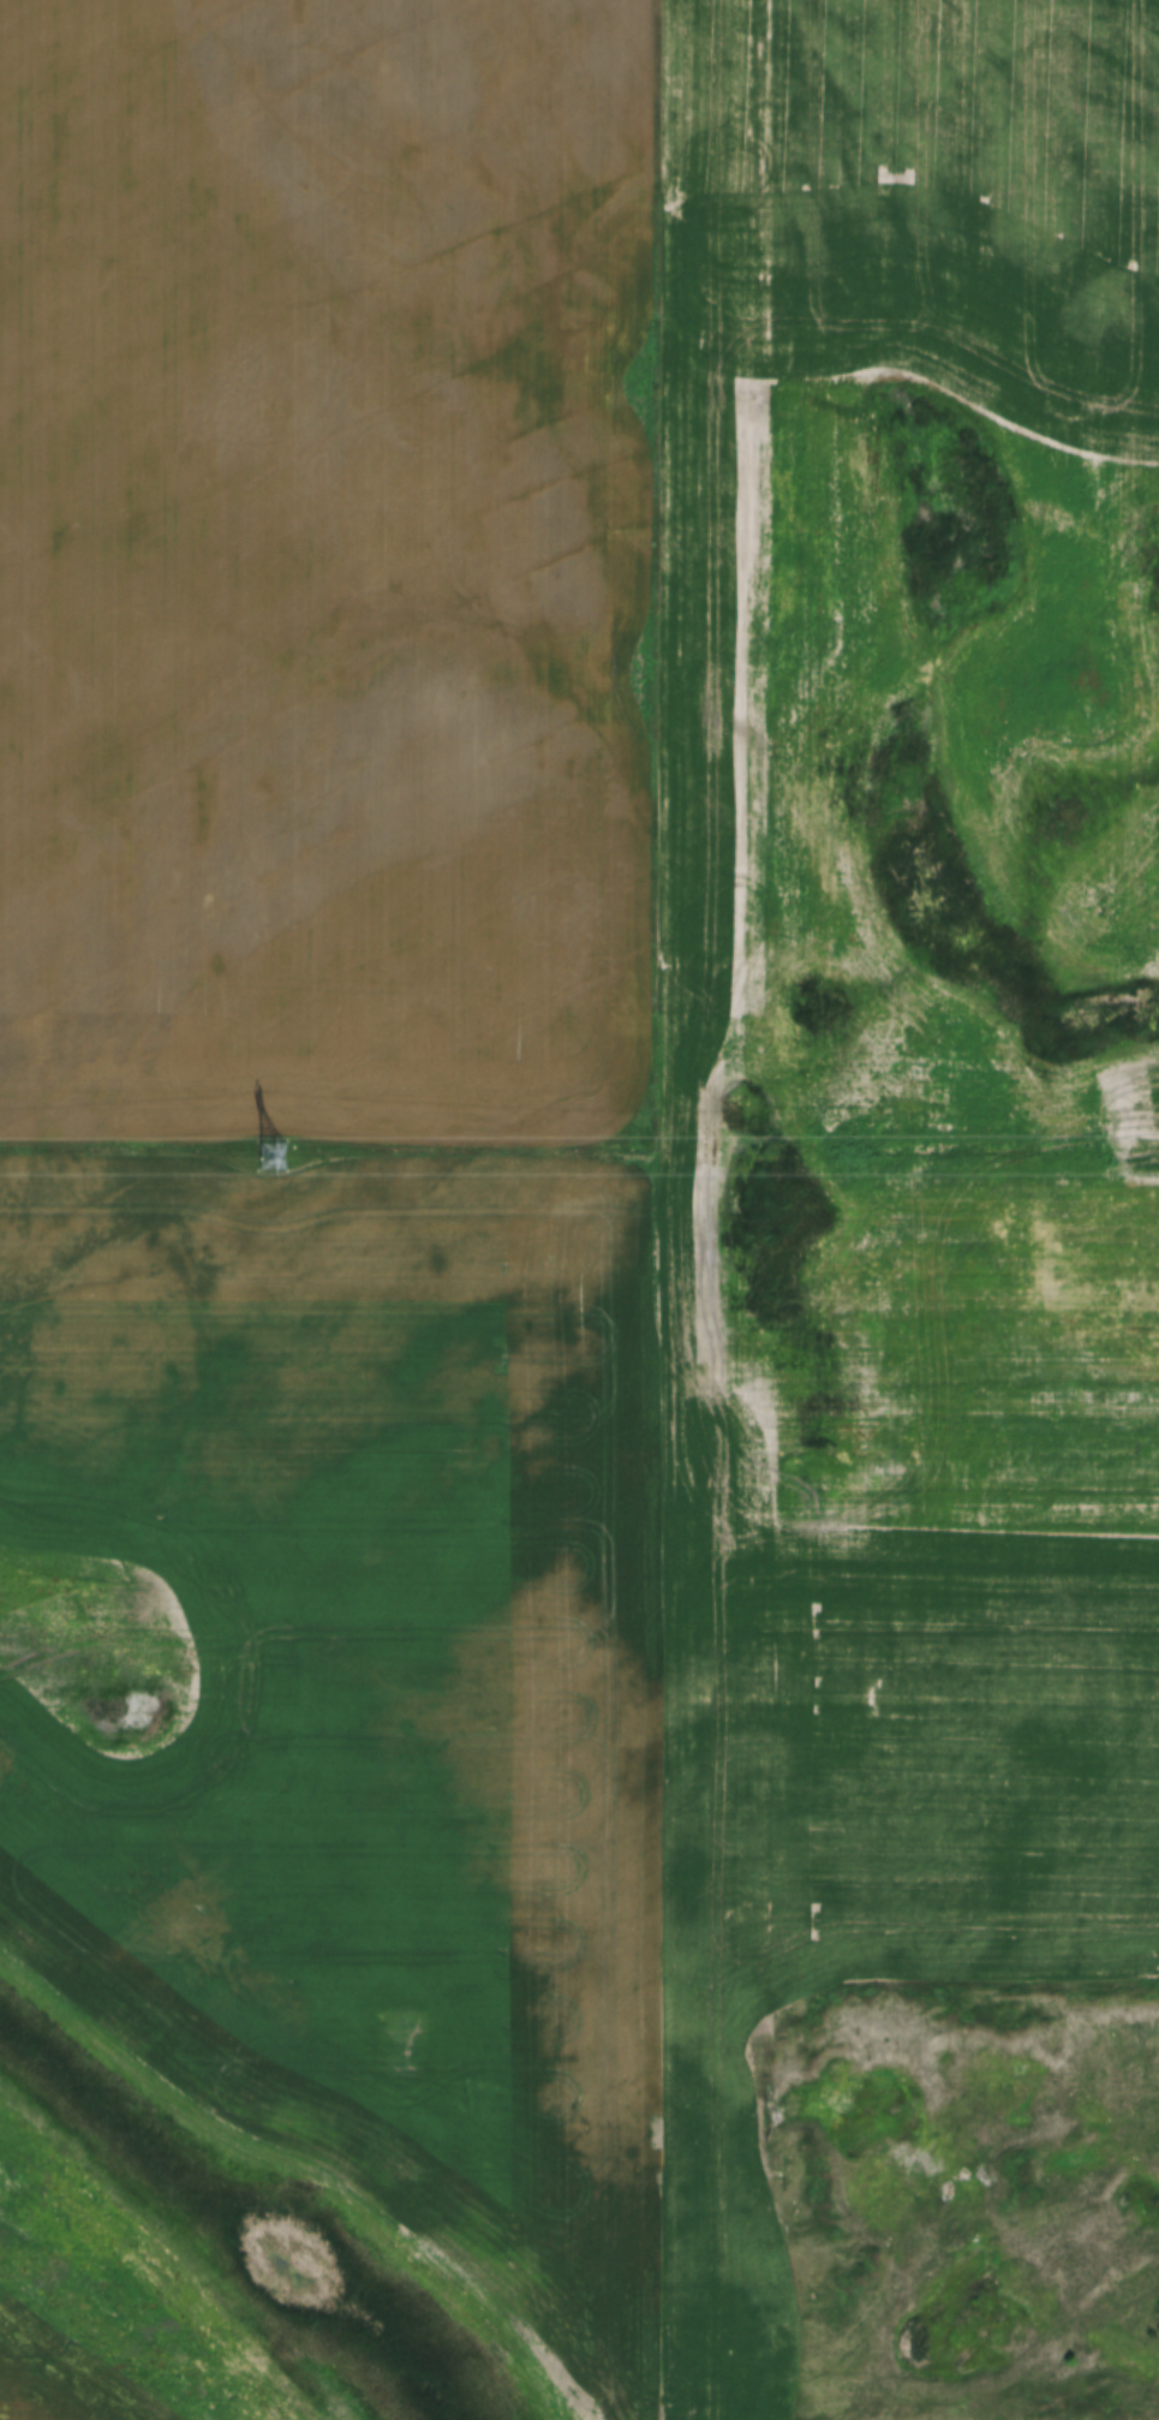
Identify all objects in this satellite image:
power tower: (274, 1155)
road: (663, 2033)

